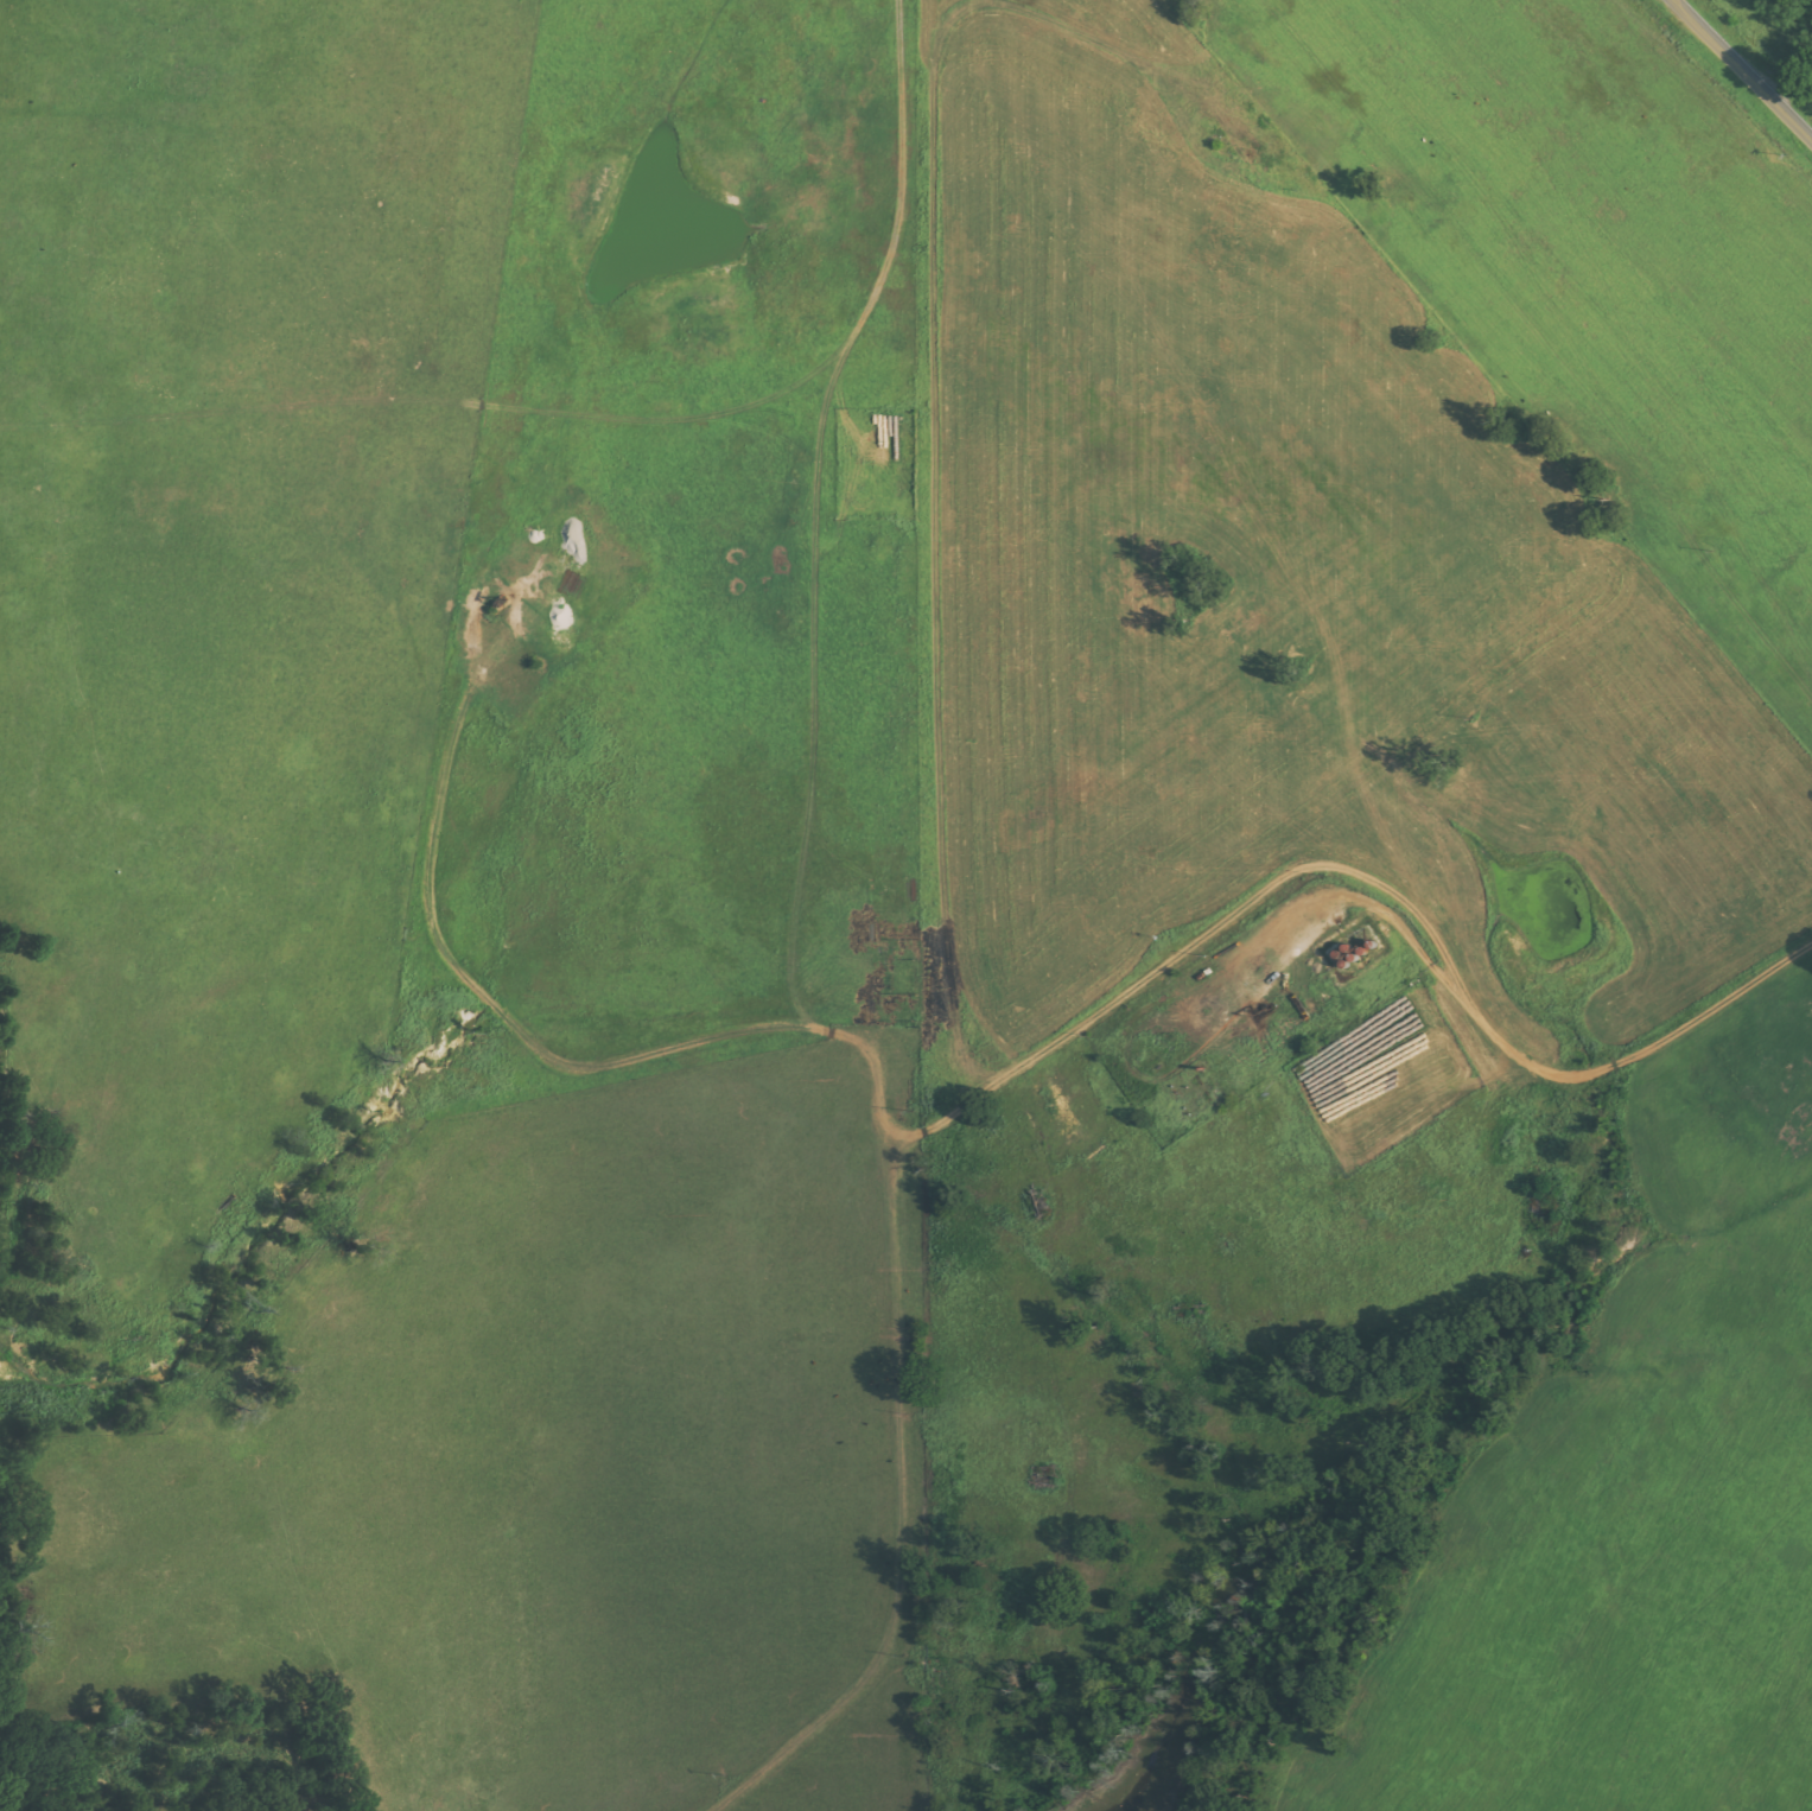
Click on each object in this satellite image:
road: (1742, 69)
road: (1655, 409)

